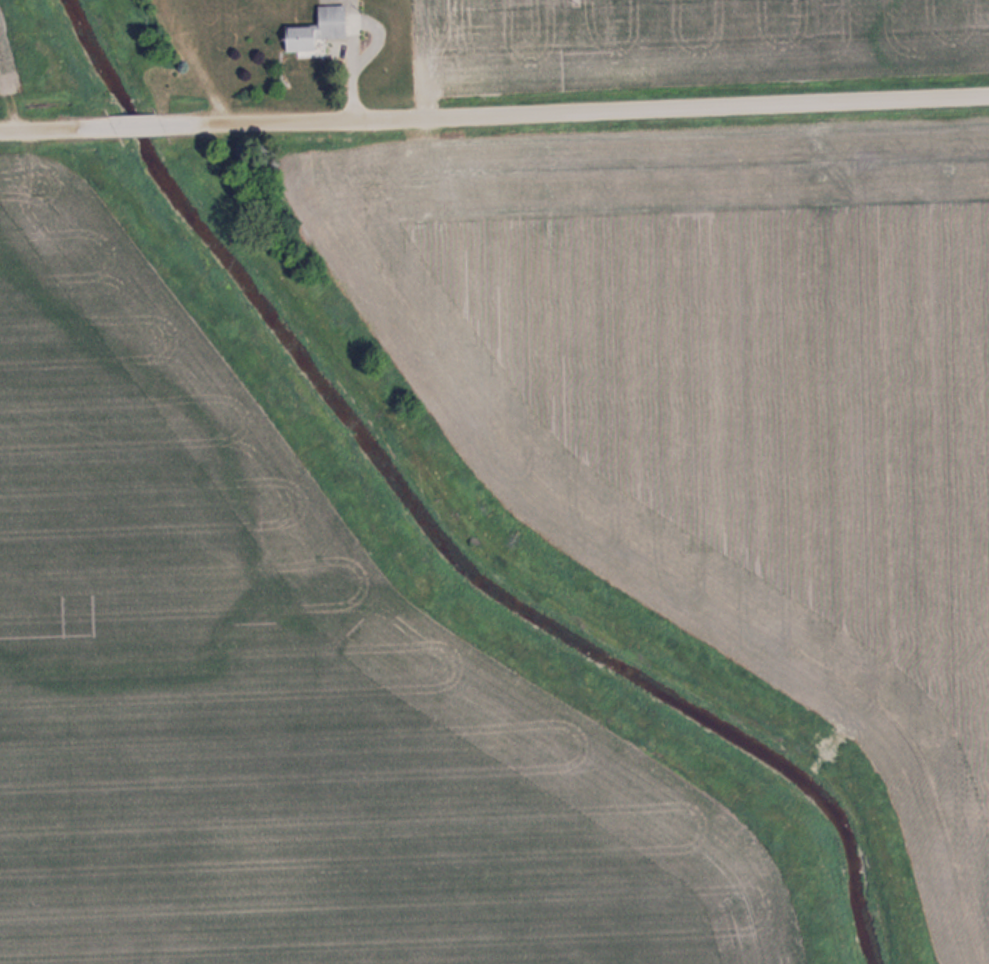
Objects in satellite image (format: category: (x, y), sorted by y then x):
building: (315, 28)
road: (574, 109)
road: (137, 125)
road: (57, 128)

